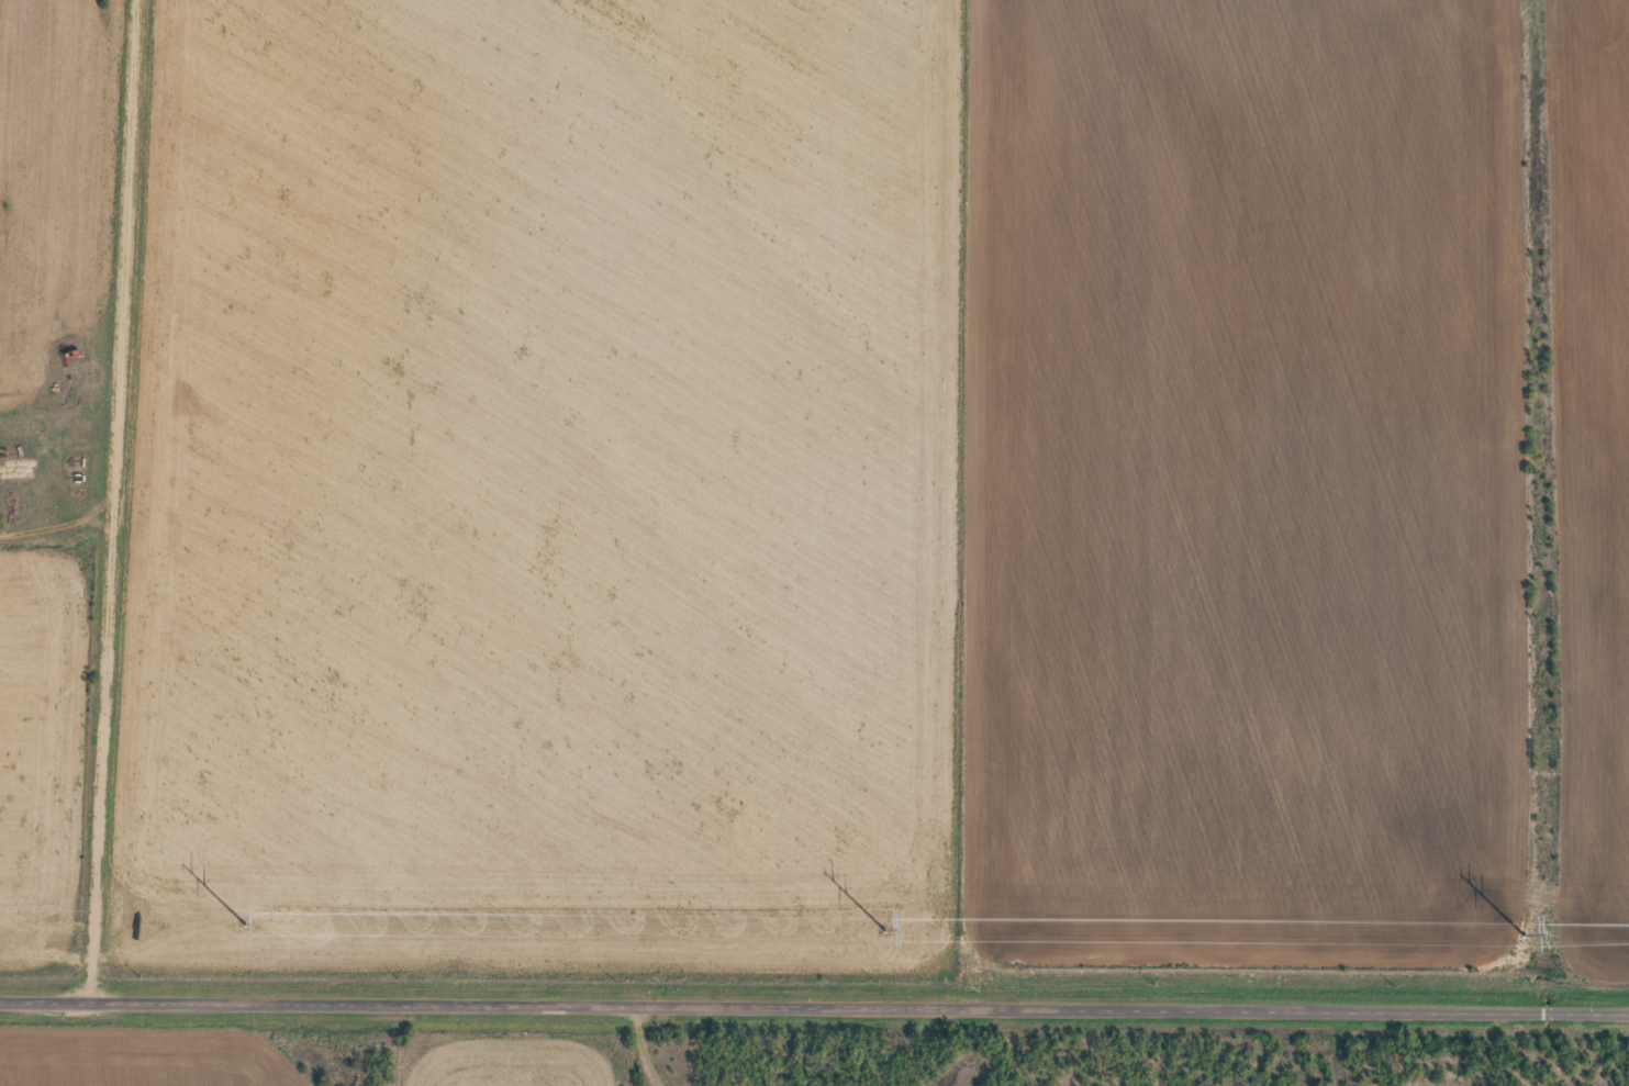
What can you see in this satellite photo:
road: (814, 1000)

